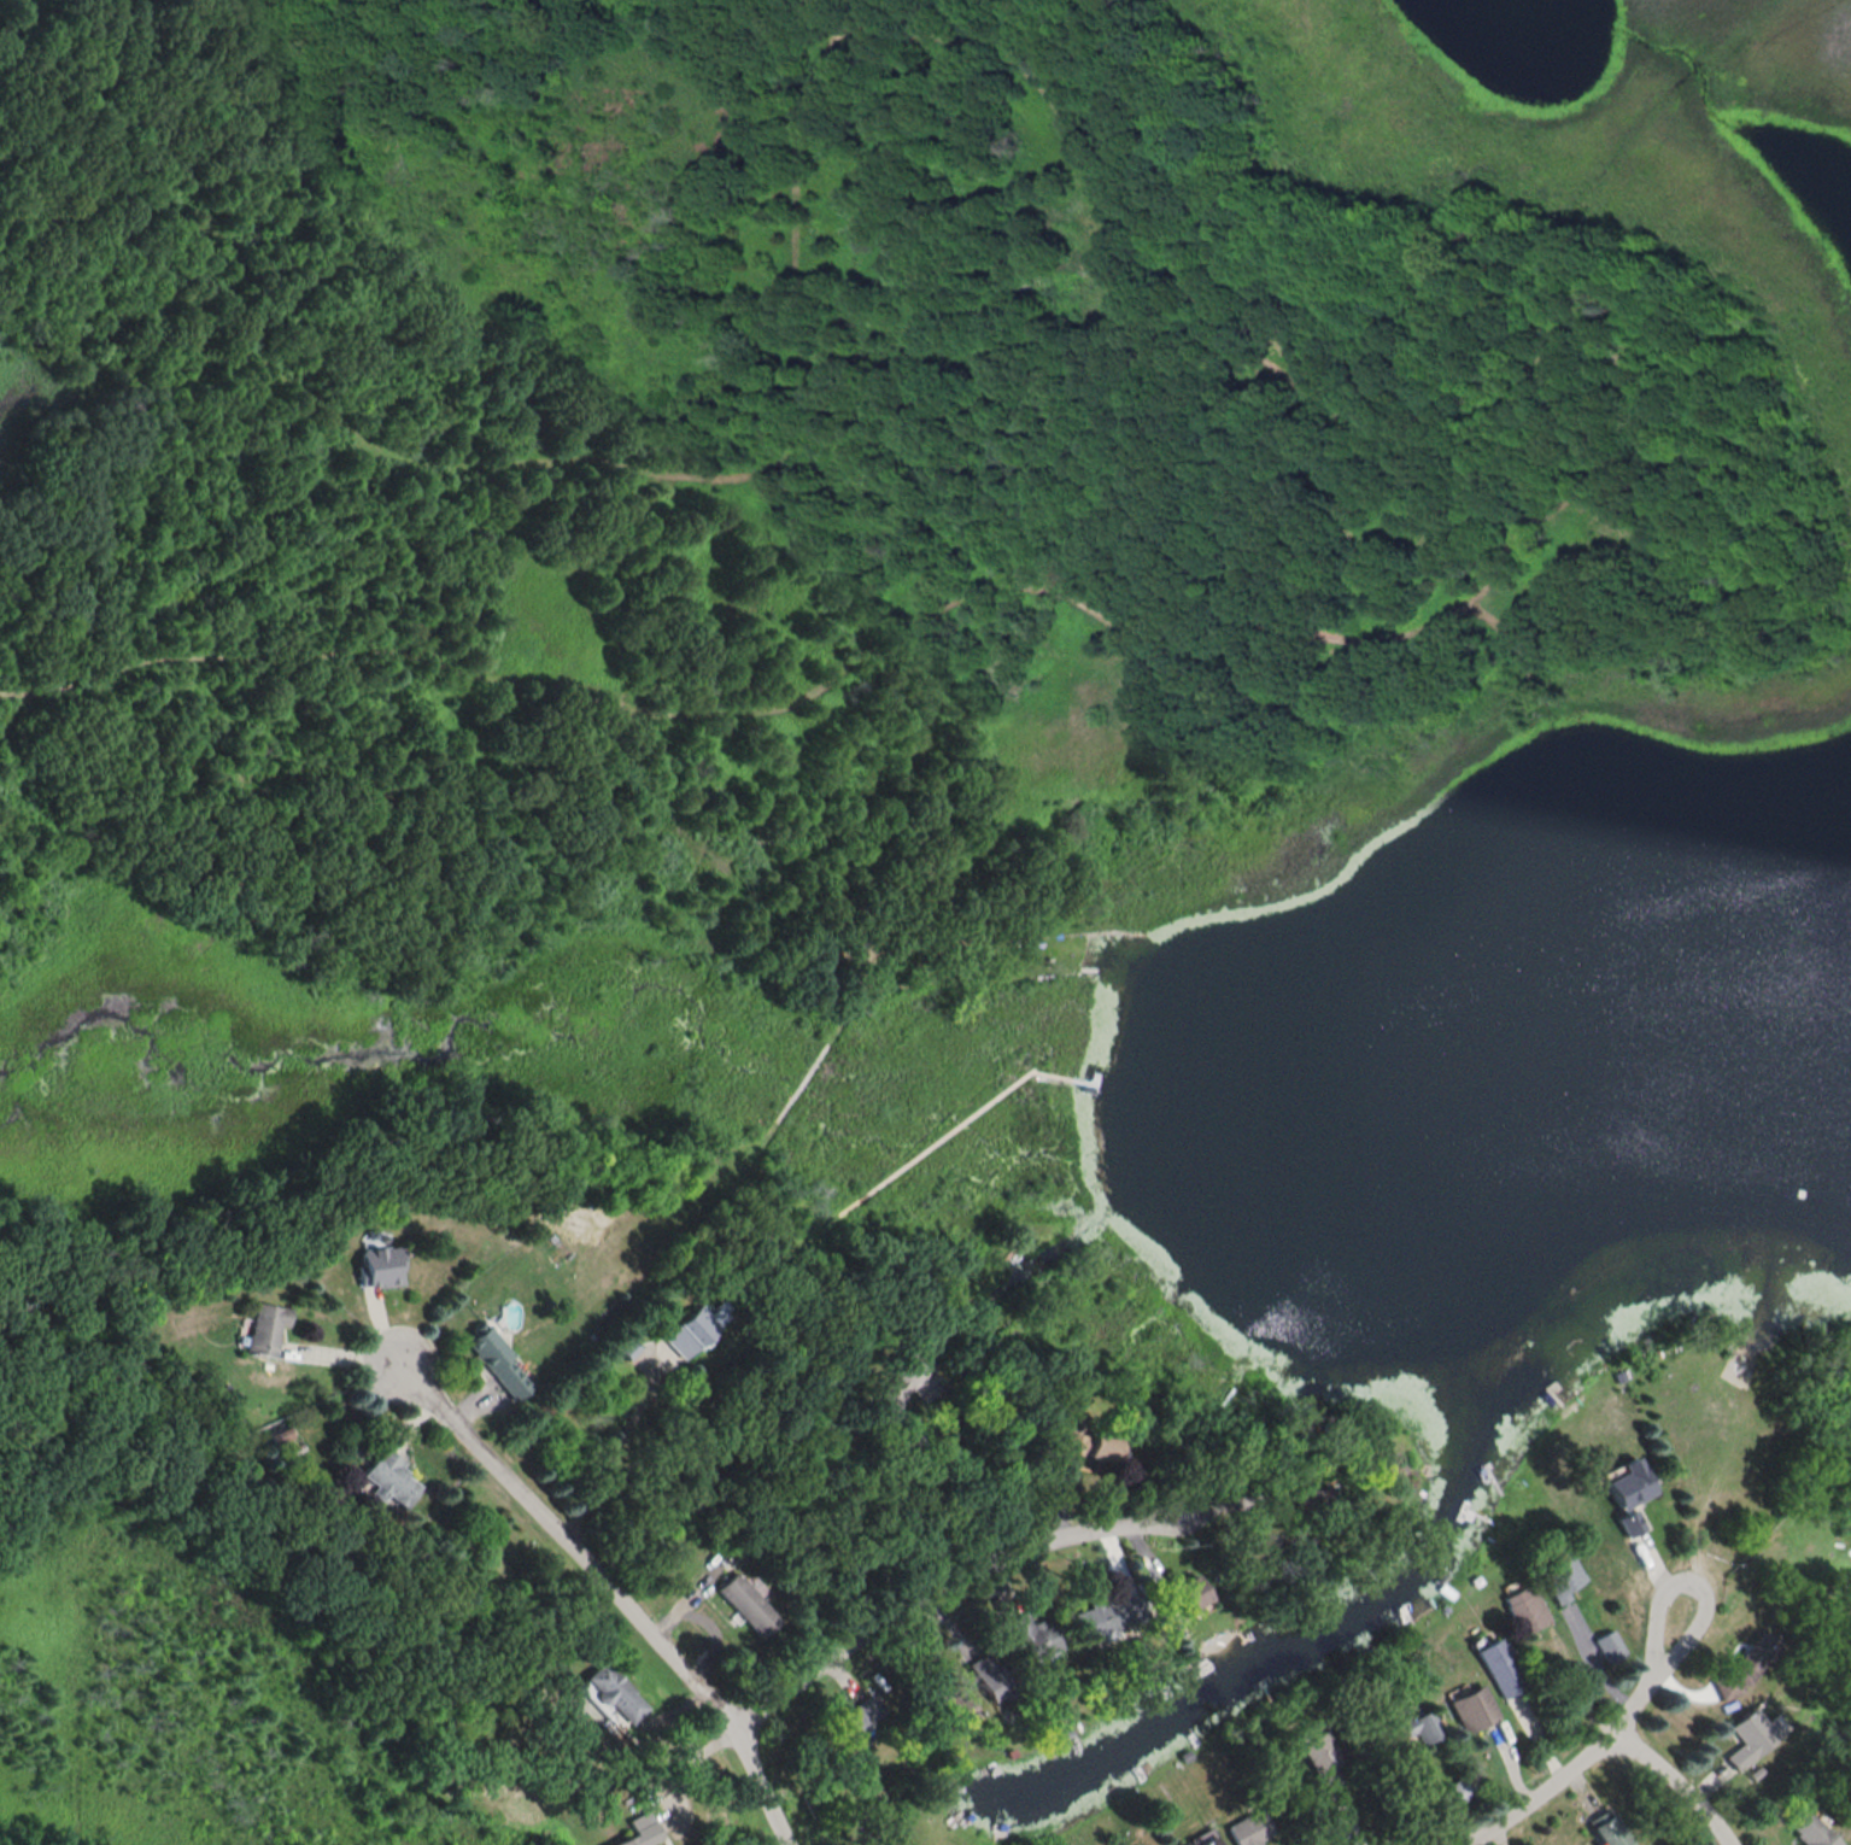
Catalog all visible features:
road: (549, 27)
road: (549, 462)
park: (895, 500)
road: (375, 552)
road: (1406, 633)
building: (379, 1265)
building: (264, 1326)
building: (686, 1335)
road: (340, 1348)
building: (499, 1360)
building: (1088, 1443)
road: (938, 1448)
road: (607, 1469)
building: (391, 1477)
building: (1629, 1482)
road: (567, 1547)
building: (1563, 1574)
building: (1181, 1592)
building: (746, 1603)
building: (1527, 1609)
road: (896, 1610)
building: (1114, 1613)
building: (1035, 1638)
building: (1610, 1646)
building: (1746, 1665)
building: (1499, 1667)
building: (991, 1677)
building: (613, 1693)
building: (949, 1703)
building: (1471, 1708)
building: (849, 1722)
building: (1414, 1730)
building: (1751, 1736)
road: (1594, 1751)
building: (1319, 1757)
road: (1675, 1780)
building: (1463, 1787)
road: (758, 1788)
building: (1809, 1826)
building: (1247, 1828)
building: (1607, 1828)
building: (638, 1829)
road: (1494, 1837)
building: (1208, 1840)

